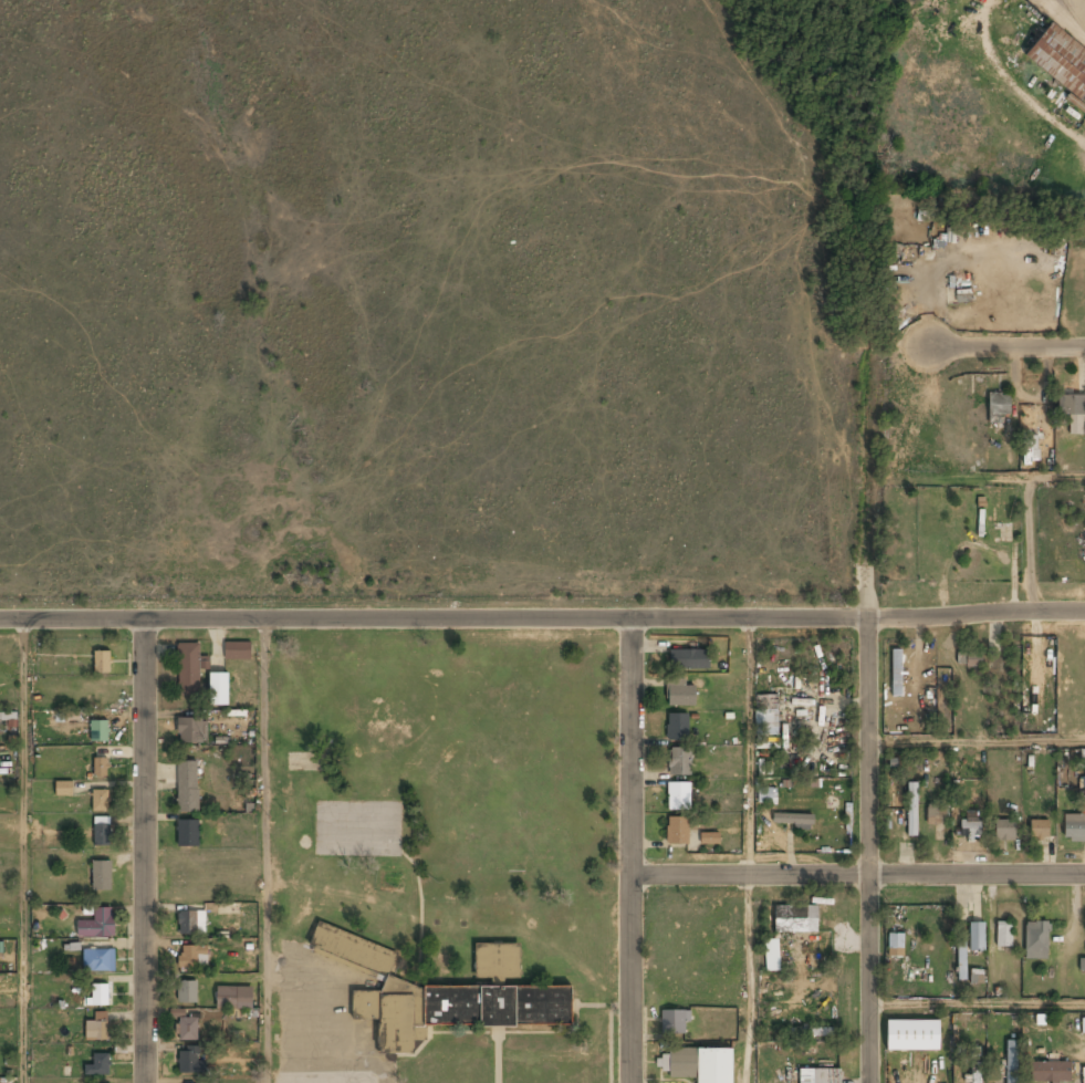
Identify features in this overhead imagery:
building: (1060, 59)
road: (1029, 344)
building: (998, 406)
building: (1072, 414)
building: (1030, 448)
road: (1060, 476)
road: (1033, 544)
road: (542, 619)
building: (238, 650)
building: (689, 659)
building: (973, 660)
building: (102, 663)
building: (189, 669)
building: (897, 673)
building: (219, 689)
building: (680, 694)
building: (677, 728)
building: (190, 731)
building: (98, 732)
road: (974, 744)
road: (750, 747)
road: (262, 748)
building: (679, 762)
building: (100, 768)
park: (444, 774)
building: (187, 787)
building: (63, 788)
building: (765, 795)
building: (679, 798)
building: (101, 801)
building: (912, 810)
building: (936, 815)
building: (793, 821)
building: (970, 824)
building: (1074, 827)
building: (1039, 830)
building: (1005, 831)
building: (102, 832)
building: (678, 832)
building: (187, 834)
building: (710, 840)
road: (23, 851)
road: (144, 851)
road: (633, 851)
road: (865, 852)
road: (858, 874)
building: (101, 876)
road: (202, 876)
building: (795, 920)
building: (191, 924)
building: (96, 925)
building: (1004, 935)
building: (977, 938)
building: (1037, 940)
building: (896, 946)
building: (353, 950)
building: (192, 957)
building: (771, 957)
building: (98, 961)
building: (497, 962)
road: (751, 978)
road: (262, 979)
building: (187, 993)
building: (97, 995)
building: (233, 999)
road: (976, 1006)
building: (458, 1009)
building: (674, 1022)
building: (96, 1028)
building: (187, 1029)
building: (912, 1035)
building: (188, 1061)
building: (1012, 1062)
building: (97, 1065)
building: (697, 1065)
building: (976, 1065)
building: (1051, 1073)
building: (820, 1076)

